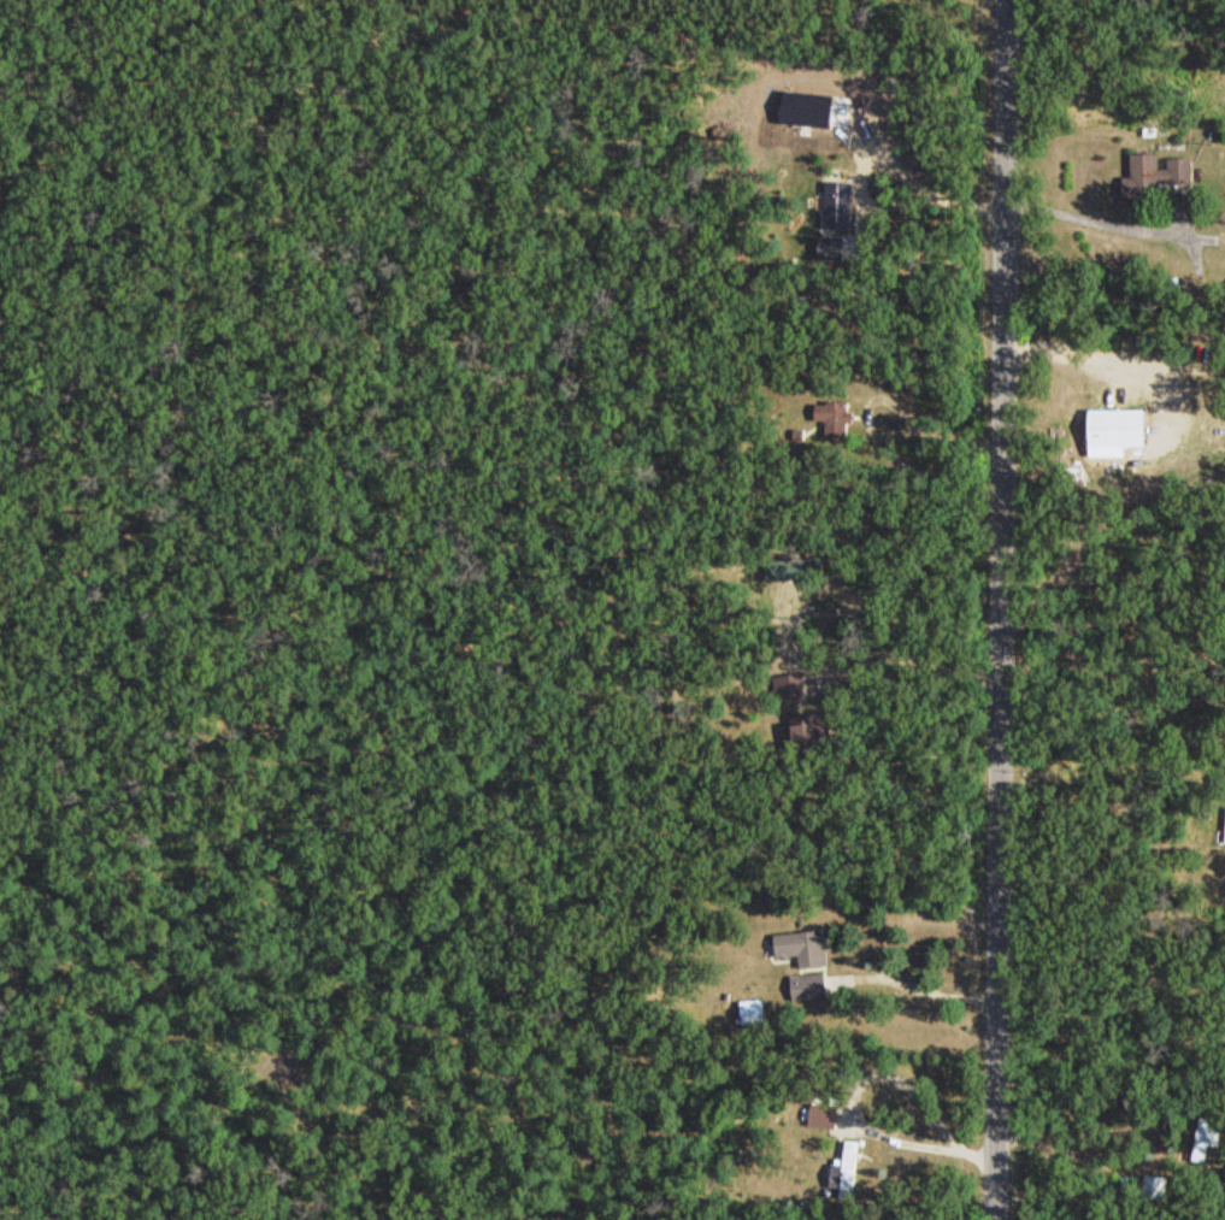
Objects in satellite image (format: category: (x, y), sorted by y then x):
building: (1150, 173)
road: (1113, 224)
building: (1113, 428)
road: (1001, 609)
building: (1223, 825)
building: (812, 985)
building: (749, 1010)
building: (819, 1115)
building: (1206, 1137)
building: (844, 1165)
building: (1154, 1186)

